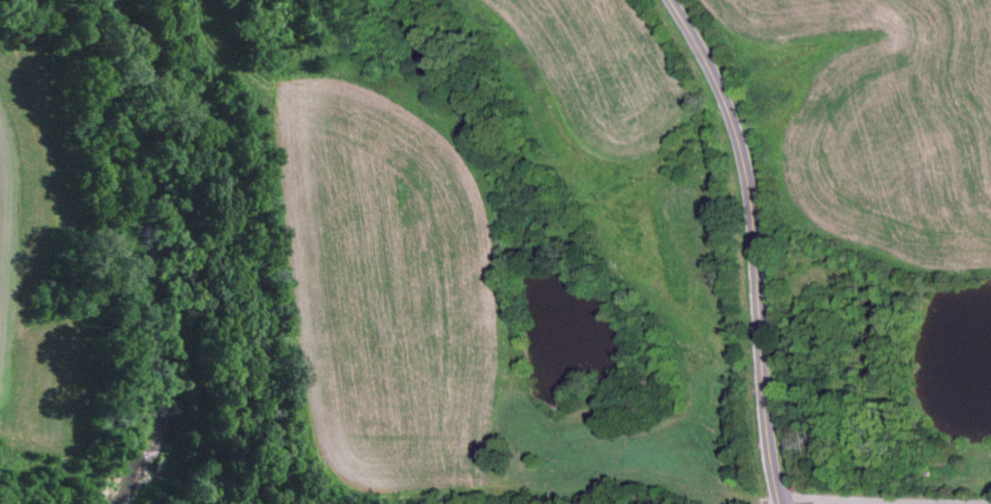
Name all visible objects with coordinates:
road: (868, 150)
road: (751, 242)
river: (169, 254)

